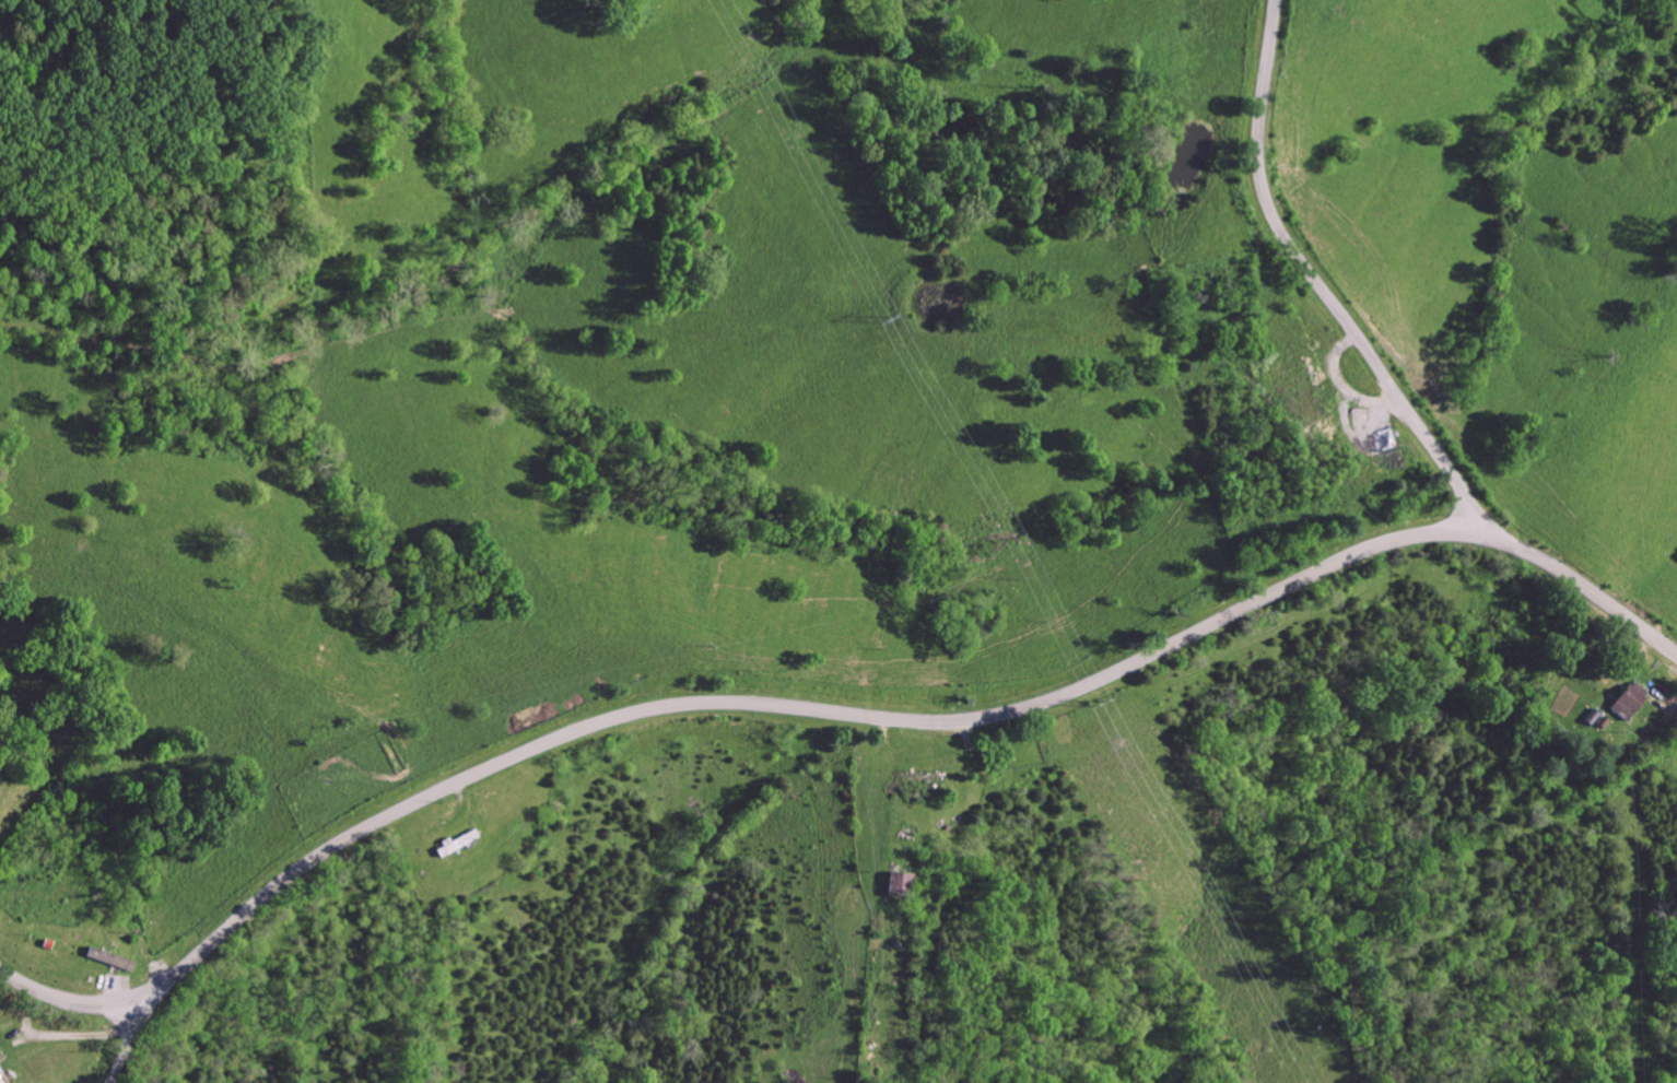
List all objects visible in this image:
road: (1317, 284)
building: (1626, 699)
road: (830, 709)
building: (899, 882)
building: (108, 958)
road: (126, 1040)
building: (0, 1082)

